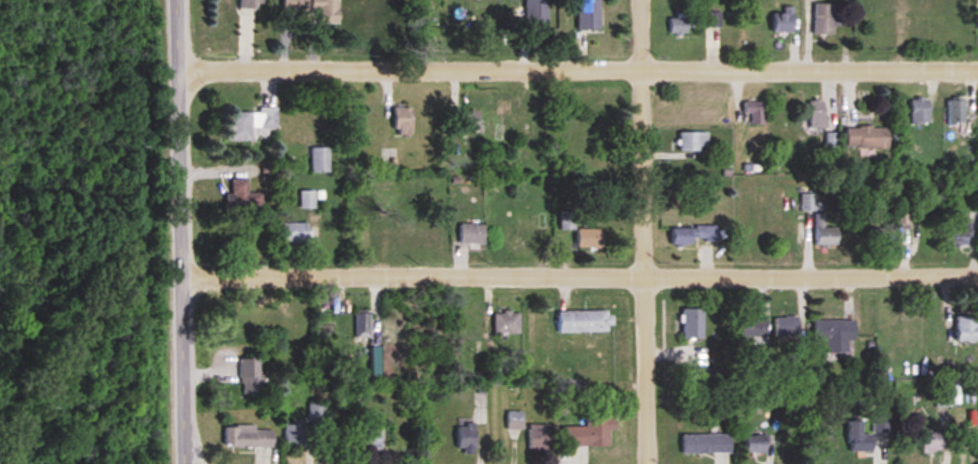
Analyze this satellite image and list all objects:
building: (253, 4)
building: (295, 7)
building: (326, 12)
building: (536, 15)
building: (588, 15)
building: (824, 20)
building: (783, 21)
building: (713, 23)
building: (682, 25)
road: (577, 66)
building: (918, 111)
building: (954, 112)
building: (754, 114)
building: (815, 115)
building: (402, 121)
building: (466, 122)
building: (250, 124)
building: (865, 138)
building: (830, 141)
building: (693, 142)
building: (320, 160)
building: (243, 196)
building: (307, 200)
building: (808, 202)
building: (567, 221)
building: (396, 227)
building: (890, 230)
road: (180, 231)
road: (640, 232)
building: (296, 233)
building: (823, 233)
building: (472, 235)
building: (694, 235)
building: (958, 236)
building: (590, 239)
building: (245, 242)
road: (579, 274)
building: (265, 314)
building: (584, 320)
building: (506, 323)
building: (692, 323)
building: (362, 326)
building: (785, 326)
building: (754, 328)
building: (965, 328)
building: (834, 338)
building: (250, 375)
building: (941, 400)
building: (316, 411)
building: (514, 420)
building: (589, 432)
building: (295, 435)
building: (248, 437)
building: (538, 437)
building: (466, 438)
building: (857, 438)
building: (367, 440)
building: (931, 442)
building: (705, 443)
building: (755, 444)

